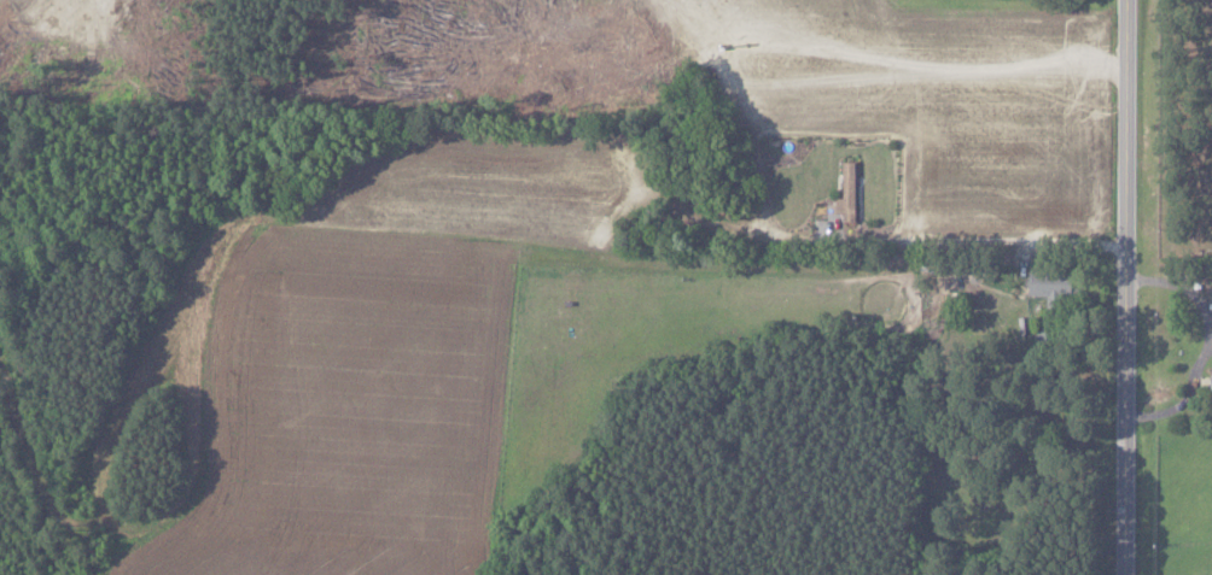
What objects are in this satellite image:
building: (849, 193)
road: (972, 239)
building: (1054, 284)
road: (1120, 287)

